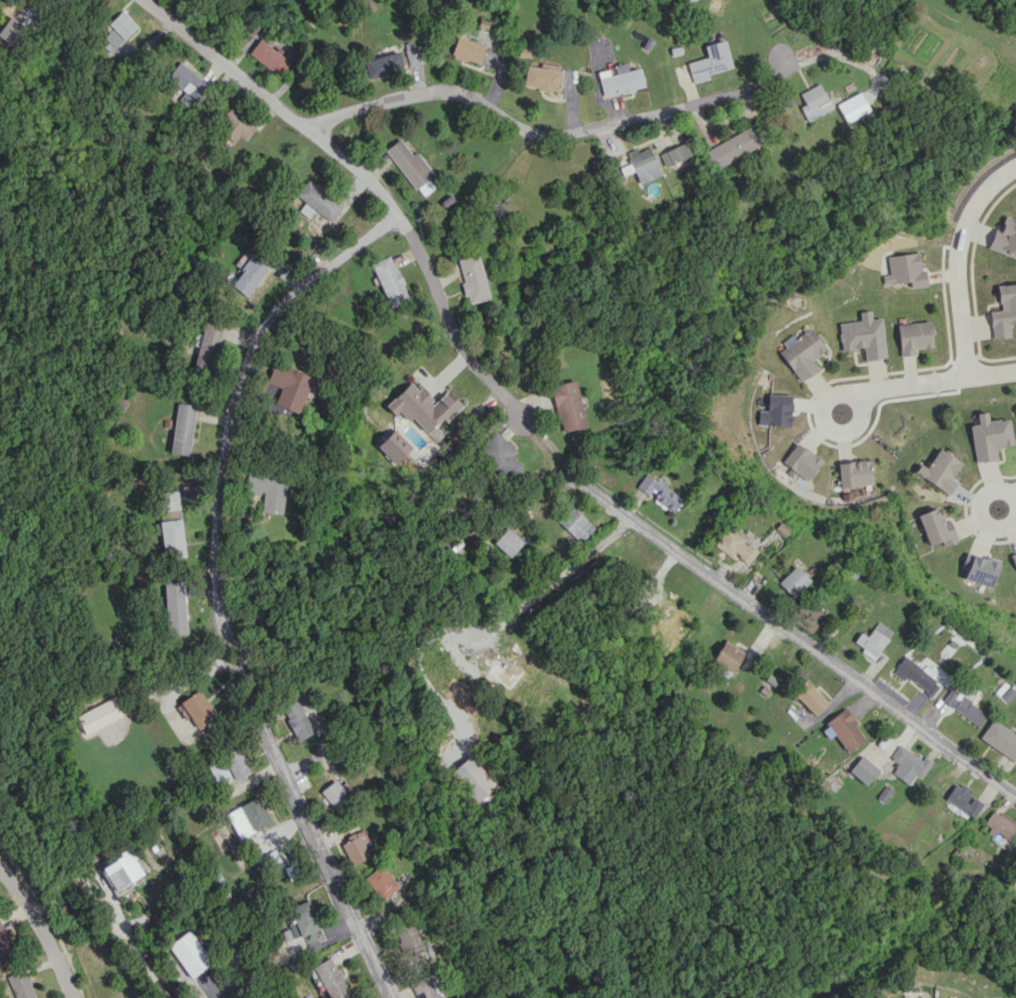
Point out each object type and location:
building: (118, 30)
building: (466, 50)
building: (414, 53)
building: (269, 57)
building: (709, 61)
building: (382, 64)
building: (541, 78)
building: (619, 79)
building: (187, 80)
building: (813, 102)
building: (851, 106)
building: (235, 124)
road: (530, 135)
building: (731, 147)
building: (674, 154)
building: (640, 164)
building: (410, 166)
road: (366, 177)
building: (317, 202)
building: (1005, 236)
road: (955, 260)
building: (904, 270)
building: (250, 274)
building: (472, 278)
building: (390, 281)
building: (1003, 311)
building: (862, 336)
building: (913, 336)
building: (208, 345)
building: (802, 354)
road: (252, 371)
road: (932, 382)
building: (289, 387)
building: (567, 406)
building: (423, 408)
building: (778, 409)
building: (1014, 410)
road: (829, 421)
building: (183, 428)
building: (989, 436)
building: (393, 446)
road: (546, 448)
building: (500, 455)
building: (802, 461)
building: (939, 470)
building: (855, 473)
building: (267, 489)
building: (658, 492)
road: (1013, 496)
building: (168, 500)
road: (985, 517)
building: (575, 524)
building: (937, 527)
building: (172, 538)
building: (507, 542)
building: (734, 546)
building: (1015, 555)
building: (982, 570)
road: (552, 579)
building: (793, 581)
building: (174, 607)
building: (673, 619)
road: (220, 623)
road: (796, 638)
building: (872, 640)
building: (727, 655)
building: (501, 666)
building: (915, 675)
building: (809, 696)
building: (964, 707)
building: (198, 708)
building: (98, 715)
building: (296, 716)
building: (842, 729)
building: (1000, 739)
building: (907, 763)
building: (228, 766)
building: (863, 770)
building: (473, 777)
building: (335, 795)
building: (964, 800)
building: (249, 817)
building: (999, 825)
building: (355, 848)
road: (323, 860)
building: (122, 869)
building: (380, 882)
building: (301, 920)
road: (42, 925)
building: (408, 941)
road: (136, 942)
building: (4, 944)
building: (189, 953)
building: (331, 978)
building: (20, 984)
building: (426, 987)
building: (921, 997)

